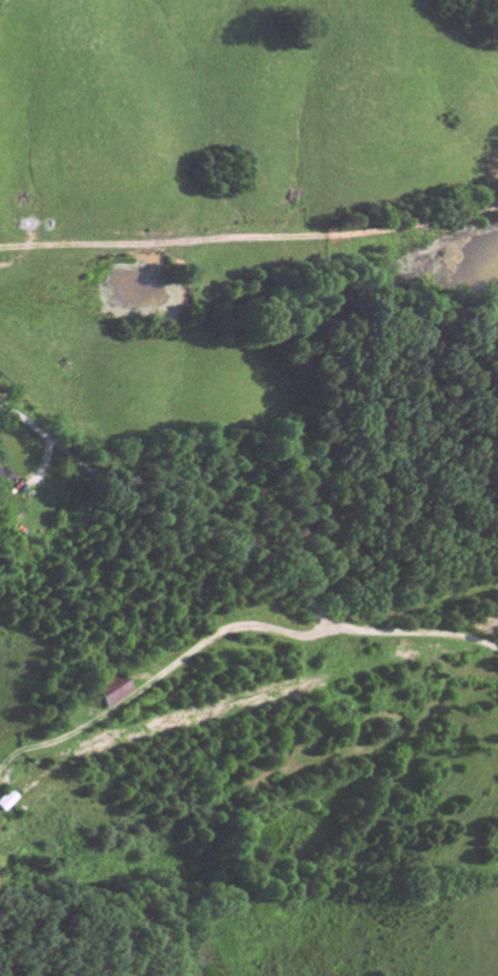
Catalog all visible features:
road: (250, 238)
building: (7, 482)
road: (243, 549)
road: (162, 677)
building: (113, 691)

